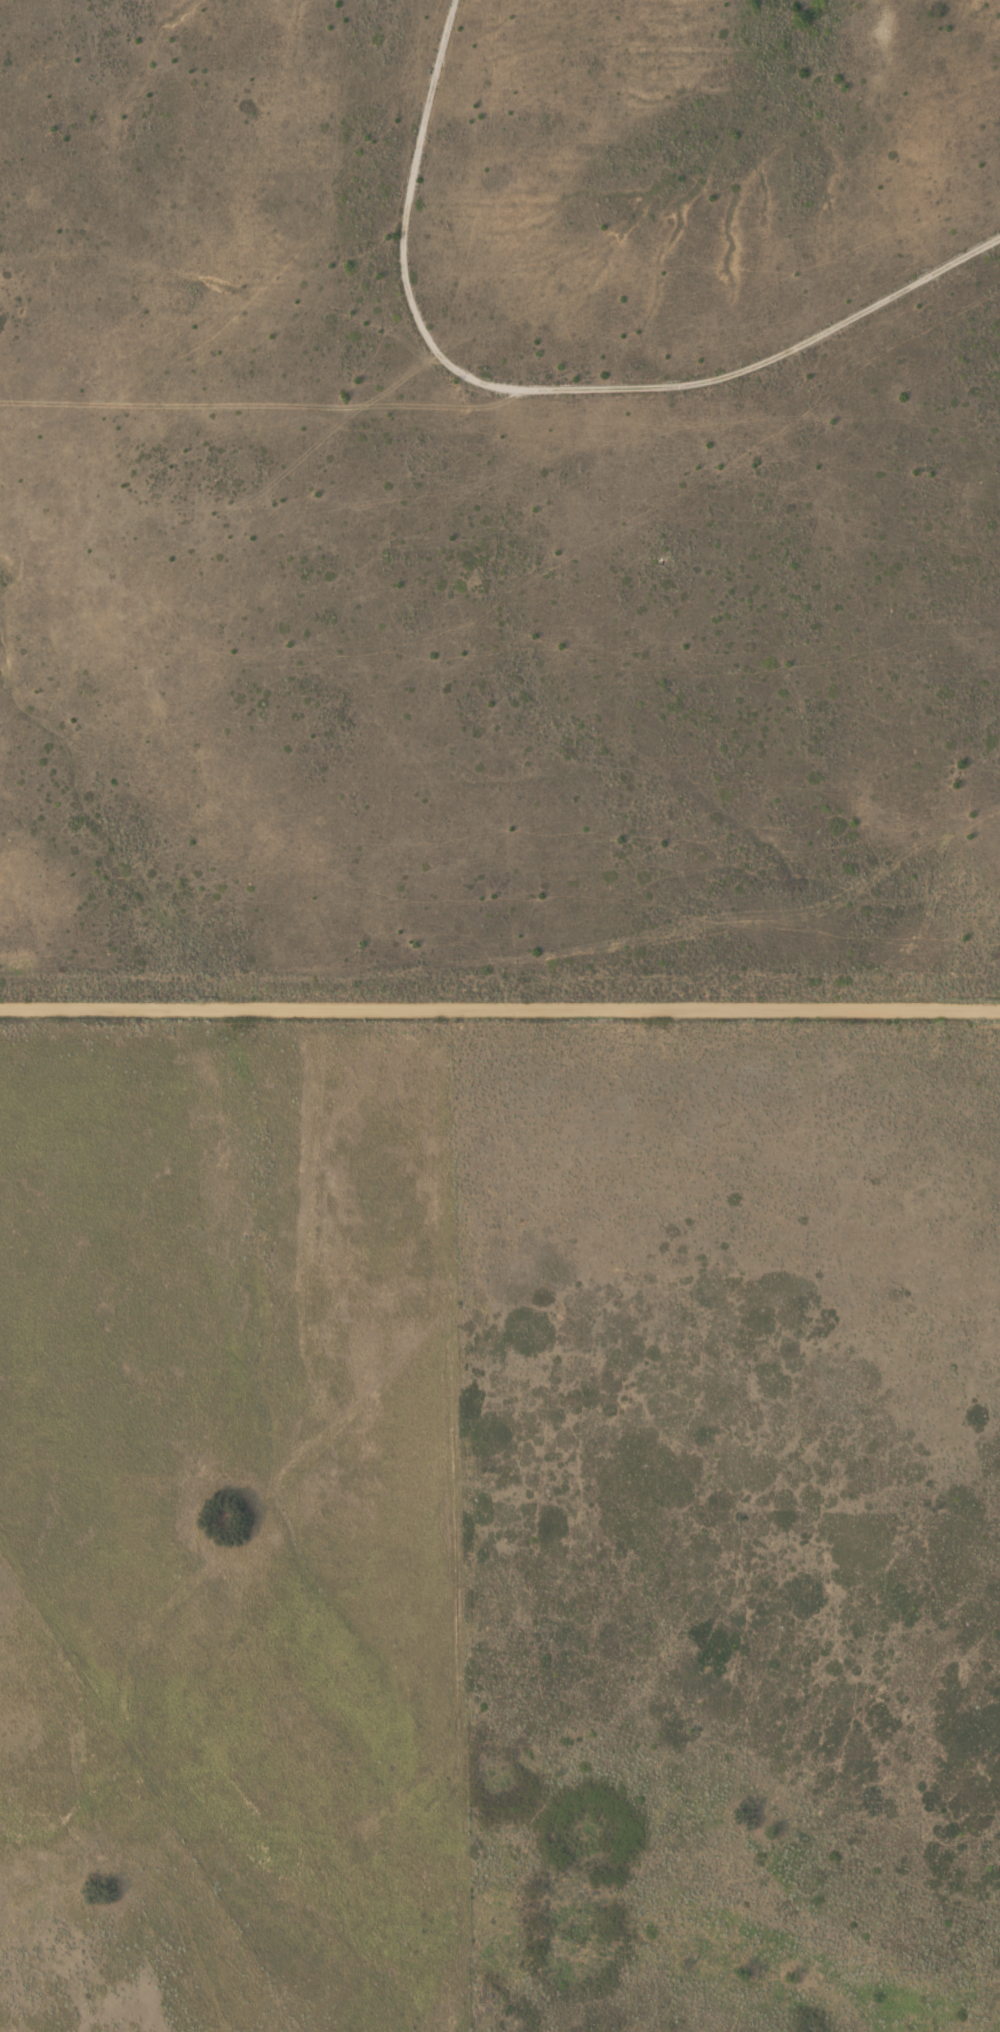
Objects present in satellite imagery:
road: (500, 1005)

